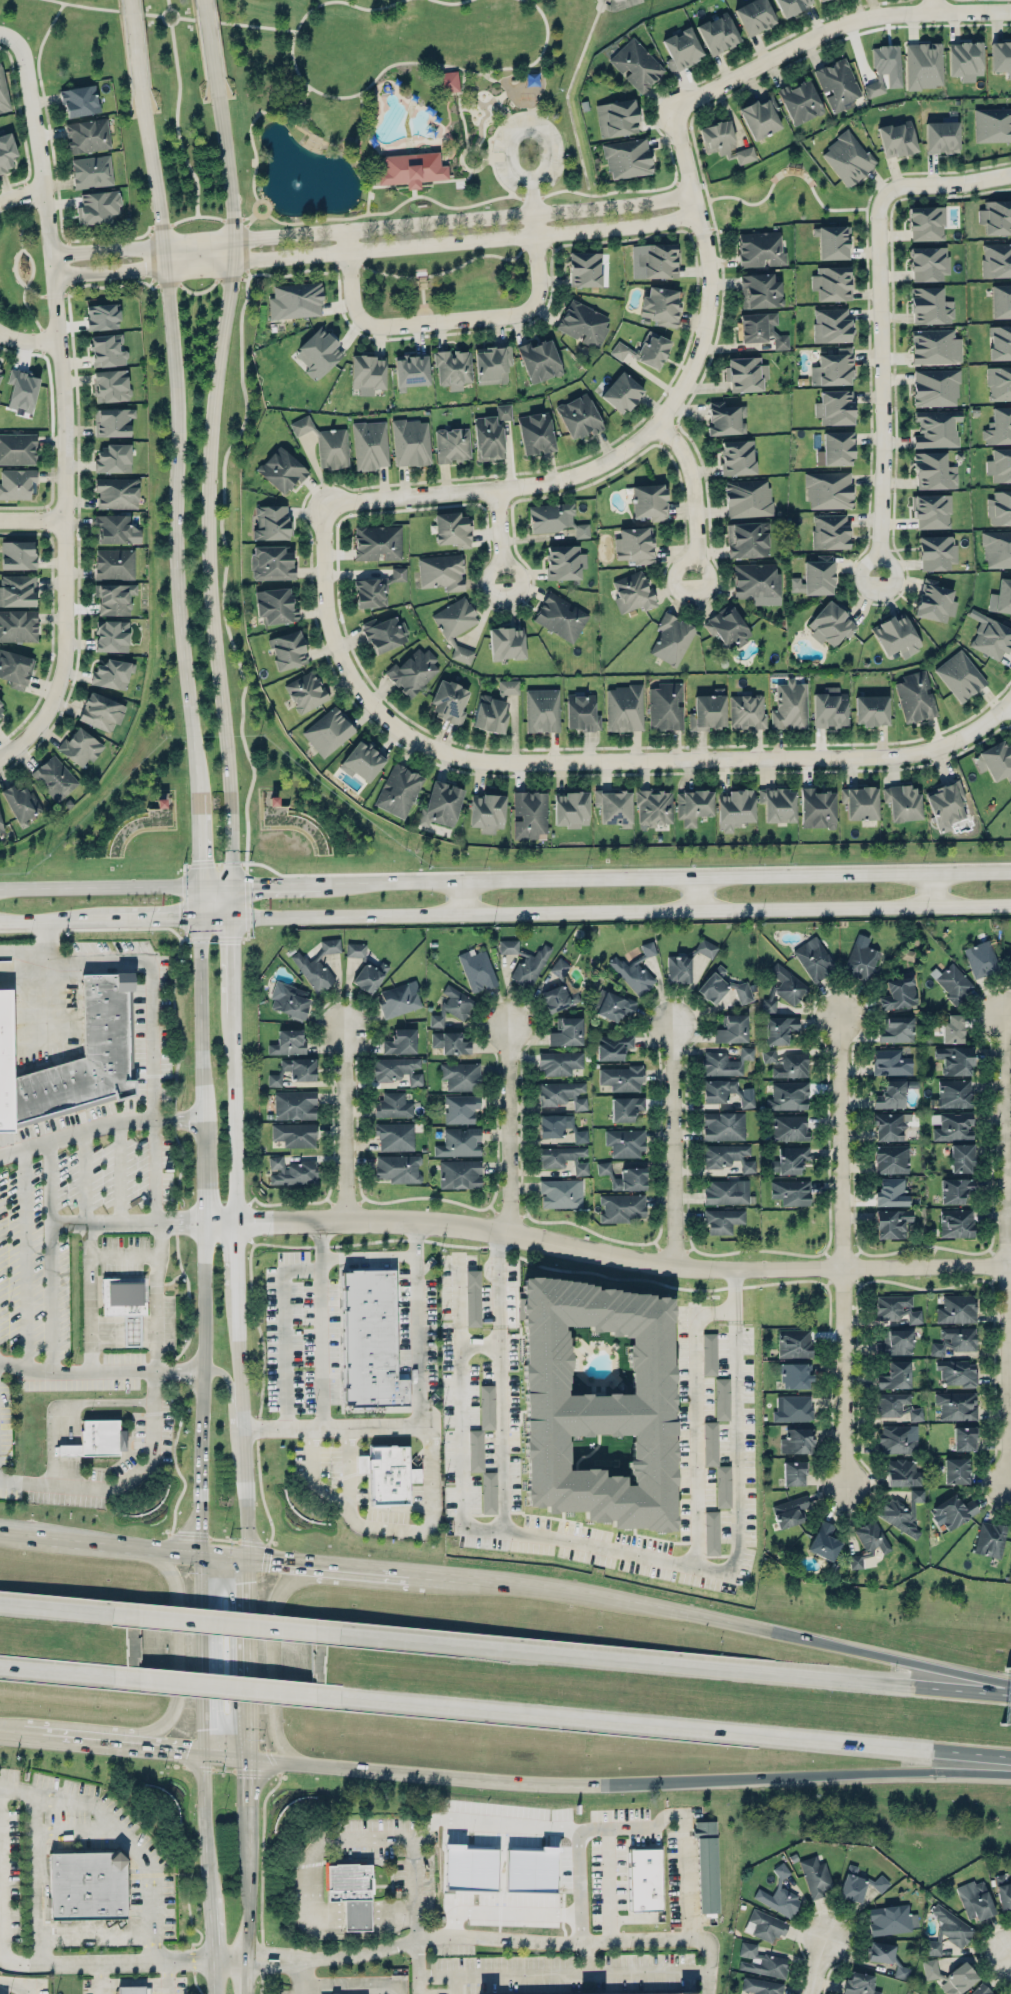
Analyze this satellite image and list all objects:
building: (820, 0)
road: (451, 2)
road: (168, 4)
road: (85, 5)
building: (791, 5)
road: (933, 5)
road: (153, 13)
building: (754, 16)
road: (163, 17)
road: (185, 18)
road: (257, 25)
road: (836, 29)
building: (718, 33)
road: (45, 36)
road: (7, 38)
road: (209, 39)
road: (135, 44)
building: (681, 49)
building: (1001, 57)
building: (965, 60)
building: (636, 64)
building: (923, 65)
road: (491, 77)
building: (447, 81)
road: (371, 83)
building: (837, 84)
building: (3, 92)
building: (79, 100)
building: (799, 101)
road: (459, 108)
building: (759, 116)
building: (617, 117)
road: (177, 122)
building: (992, 124)
road: (251, 125)
building: (87, 135)
road: (312, 135)
building: (941, 137)
road: (492, 138)
building: (897, 139)
building: (723, 142)
parking lot: (554, 150)
building: (6, 151)
road: (462, 151)
road: (354, 153)
road: (497, 155)
building: (627, 158)
building: (847, 158)
building: (411, 169)
building: (91, 171)
road: (538, 175)
road: (778, 176)
road: (438, 179)
fountain: (301, 181)
road: (945, 181)
road: (21, 194)
road: (533, 195)
road: (479, 203)
road: (59, 204)
building: (97, 207)
road: (254, 214)
road: (259, 214)
building: (995, 217)
road: (196, 218)
road: (242, 218)
building: (926, 223)
road: (373, 229)
road: (620, 240)
building: (832, 241)
road: (245, 245)
road: (376, 249)
building: (759, 249)
road: (152, 258)
building: (657, 260)
building: (996, 260)
building: (928, 263)
road: (68, 264)
building: (584, 269)
road: (33, 270)
road: (391, 274)
building: (831, 283)
road: (75, 289)
road: (207, 290)
building: (759, 291)
road: (423, 299)
building: (295, 300)
building: (1000, 301)
building: (661, 305)
building: (930, 306)
building: (102, 316)
road: (447, 321)
building: (583, 323)
building: (831, 324)
building: (762, 329)
road: (28, 341)
building: (1000, 342)
building: (935, 346)
building: (651, 349)
building: (107, 350)
building: (619, 350)
building: (318, 352)
building: (539, 360)
building: (492, 364)
building: (1, 368)
building: (453, 368)
building: (833, 368)
building: (411, 371)
building: (367, 373)
building: (745, 373)
building: (998, 383)
building: (111, 385)
road: (882, 385)
building: (935, 387)
building: (22, 389)
building: (621, 392)
road: (63, 406)
building: (834, 407)
building: (579, 416)
building: (725, 418)
building: (112, 421)
building: (301, 425)
building: (999, 426)
building: (936, 428)
road: (647, 429)
building: (535, 433)
building: (488, 438)
road: (177, 439)
building: (411, 442)
building: (370, 444)
building: (452, 444)
building: (17, 448)
building: (332, 448)
building: (835, 449)
building: (737, 457)
building: (113, 458)
building: (999, 464)
building: (281, 470)
building: (933, 471)
road: (209, 480)
building: (17, 483)
building: (828, 489)
building: (116, 493)
road: (696, 494)
building: (747, 497)
building: (649, 501)
building: (999, 508)
building: (931, 511)
building: (555, 519)
road: (31, 521)
building: (271, 523)
building: (115, 529)
building: (452, 529)
building: (829, 531)
road: (500, 536)
building: (747, 539)
building: (377, 542)
building: (633, 545)
building: (997, 548)
building: (936, 552)
building: (17, 555)
building: (272, 562)
building: (564, 562)
building: (114, 563)
building: (441, 572)
building: (398, 573)
building: (818, 575)
building: (756, 583)
building: (17, 590)
building: (370, 592)
building: (633, 592)
building: (1003, 595)
building: (113, 598)
building: (934, 601)
building: (275, 605)
building: (560, 616)
building: (830, 624)
building: (18, 625)
building: (456, 626)
building: (727, 627)
building: (384, 633)
building: (111, 635)
building: (896, 635)
building: (671, 638)
building: (991, 638)
building: (507, 643)
building: (287, 650)
building: (15, 668)
building: (413, 671)
building: (112, 673)
building: (959, 675)
building: (305, 692)
building: (915, 696)
building: (449, 701)
building: (790, 705)
building: (665, 706)
building: (624, 707)
building: (829, 707)
building: (2, 709)
building: (542, 710)
building: (708, 710)
building: (871, 710)
building: (101, 711)
building: (746, 711)
building: (581, 712)
building: (490, 713)
road: (988, 720)
building: (328, 731)
building: (79, 747)
building: (362, 760)
building: (995, 760)
road: (553, 762)
building: (54, 777)
building: (398, 790)
building: (902, 801)
building: (21, 802)
building: (859, 802)
building: (441, 803)
building: (777, 804)
building: (946, 805)
building: (613, 806)
building: (693, 806)
building: (653, 807)
building: (570, 808)
building: (734, 808)
building: (817, 808)
building: (486, 812)
building: (529, 814)
building: (1, 828)
road: (197, 854)
traffic signals: (198, 858)
road: (671, 876)
traffic signals: (251, 883)
road: (265, 883)
road: (99, 884)
road: (935, 888)
road: (700, 892)
road: (464, 896)
road: (620, 909)
road: (161, 916)
traffic signals: (179, 916)
road: (46, 918)
traffic signals: (230, 942)
building: (330, 945)
building: (508, 946)
building: (705, 947)
building: (647, 948)
road: (23, 950)
building: (355, 950)
road: (230, 954)
building: (813, 958)
building: (860, 958)
building: (980, 958)
building: (529, 966)
building: (559, 967)
building: (678, 968)
building: (477, 969)
building: (313, 970)
building: (632, 973)
building: (369, 976)
building: (952, 981)
road: (45, 982)
building: (722, 986)
building: (783, 988)
road: (153, 990)
building: (898, 993)
building: (558, 998)
building: (288, 999)
building: (397, 1000)
building: (452, 1005)
building: (613, 1005)
road: (201, 1017)
building: (952, 1028)
building: (732, 1029)
building: (779, 1029)
building: (896, 1029)
building: (566, 1031)
building: (400, 1041)
building: (451, 1041)
building: (288, 1042)
building: (612, 1046)
building: (954, 1059)
building: (82, 1061)
building: (559, 1062)
building: (725, 1062)
building: (890, 1062)
building: (786, 1063)
building: (4, 1065)
building: (398, 1069)
building: (294, 1070)
building: (460, 1076)
building: (621, 1077)
building: (717, 1089)
building: (563, 1093)
building: (892, 1093)
building: (954, 1093)
building: (788, 1095)
building: (747, 1101)
building: (294, 1104)
building: (393, 1105)
building: (461, 1108)
building: (626, 1108)
road: (234, 1123)
road: (100, 1124)
road: (345, 1124)
building: (951, 1125)
building: (723, 1126)
building: (888, 1126)
building: (789, 1127)
road: (509, 1130)
building: (294, 1134)
building: (394, 1136)
building: (459, 1142)
building: (625, 1142)
road: (674, 1146)
building: (728, 1156)
building: (564, 1158)
building: (961, 1158)
building: (789, 1159)
building: (891, 1159)
building: (603, 1167)
building: (398, 1168)
road: (205, 1170)
road: (154, 1171)
building: (291, 1171)
road: (120, 1172)
building: (459, 1173)
road: (84, 1177)
building: (630, 1179)
building: (955, 1189)
building: (726, 1191)
building: (791, 1192)
building: (890, 1192)
building: (560, 1193)
building: (621, 1207)
building: (722, 1220)
building: (956, 1222)
road: (128, 1223)
building: (891, 1223)
road: (1006, 1249)
road: (842, 1251)
road: (237, 1253)
road: (122, 1255)
road: (49, 1256)
road: (385, 1256)
road: (607, 1256)
road: (26, 1258)
road: (155, 1296)
building: (472, 1297)
road: (87, 1298)
building: (126, 1305)
road: (714, 1308)
building: (896, 1308)
building: (956, 1308)
road: (285, 1329)
building: (954, 1340)
building: (370, 1341)
road: (480, 1341)
building: (793, 1342)
building: (896, 1342)
building: (709, 1353)
road: (242, 1358)
road: (323, 1364)
road: (101, 1372)
building: (957, 1372)
building: (795, 1375)
building: (895, 1375)
road: (228, 1378)
road: (499, 1382)
road: (422, 1391)
road: (462, 1393)
building: (721, 1398)
road: (64, 1401)
building: (597, 1403)
building: (956, 1405)
building: (486, 1406)
building: (897, 1406)
road: (203, 1407)
building: (793, 1408)
road: (238, 1419)
road: (736, 1422)
building: (97, 1438)
building: (897, 1438)
building: (964, 1438)
road: (692, 1440)
building: (797, 1441)
road: (244, 1448)
building: (475, 1450)
building: (716, 1464)
road: (347, 1467)
building: (955, 1470)
building: (901, 1472)
road: (313, 1473)
building: (388, 1473)
building: (794, 1473)
road: (122, 1479)
building: (488, 1492)
road: (247, 1509)
building: (789, 1511)
building: (953, 1511)
building: (902, 1512)
road: (431, 1522)
traffic signals: (200, 1531)
building: (711, 1532)
road: (21, 1533)
building: (990, 1538)
building: (824, 1541)
building: (868, 1541)
road: (120, 1542)
road: (592, 1545)
road: (224, 1551)
traffic signals: (270, 1556)
road: (280, 1557)
road: (359, 1564)
road: (454, 1573)
traffic signals: (250, 1581)
road: (638, 1600)
road: (59, 1609)
road: (223, 1624)
road: (178, 1644)
road: (250, 1655)
road: (893, 1655)
road: (274, 1661)
road: (669, 1662)
road: (59, 1670)
road: (204, 1673)
road: (232, 1687)
road: (678, 1725)
traffic signals: (206, 1729)
road: (11, 1731)
road: (32, 1734)
road: (88, 1740)
traffic signals: (187, 1751)
road: (193, 1751)
road: (279, 1761)
road: (450, 1775)
traffic signals: (251, 1778)
road: (801, 1779)
road: (504, 1820)
road: (209, 1821)
road: (250, 1821)
road: (75, 1828)
road: (641, 1828)
road: (122, 1833)
road: (423, 1834)
road: (407, 1838)
building: (706, 1866)
building: (470, 1867)
road: (262, 1868)
building: (530, 1868)
building: (814, 1875)
road: (33, 1876)
building: (644, 1879)
parking lot: (672, 1879)
road: (608, 1884)
building: (857, 1884)
building: (87, 1885)
building: (1003, 1891)
building: (350, 1892)
building: (779, 1895)
building: (975, 1900)
road: (310, 1901)
road: (505, 1909)
road: (834, 1910)
road: (395, 1915)
road: (356, 1916)
building: (891, 1919)
road: (249, 1920)
road: (212, 1921)
building: (766, 1924)
road: (93, 1928)
building: (949, 1930)
road: (501, 1938)
building: (880, 1952)
road: (276, 1953)
road: (1010, 1953)
road: (981, 1955)
road: (231, 1957)
road: (23, 1959)
building: (761, 1961)
road: (275, 1963)
road: (710, 1965)
road: (818, 1966)
road: (418, 1967)
road: (649, 1972)
parking lot: (560, 1973)
road: (213, 1974)
road: (519, 1974)
road: (248, 1975)
building: (948, 1976)
road: (100, 1977)
road: (306, 1978)
road: (144, 1982)
road: (17, 1983)
road: (357, 1983)
building: (859, 1984)
road: (455, 1985)
building: (761, 1986)
road: (166, 1988)
building: (981, 1989)
building: (132, 1990)
building: (644, 1993)

